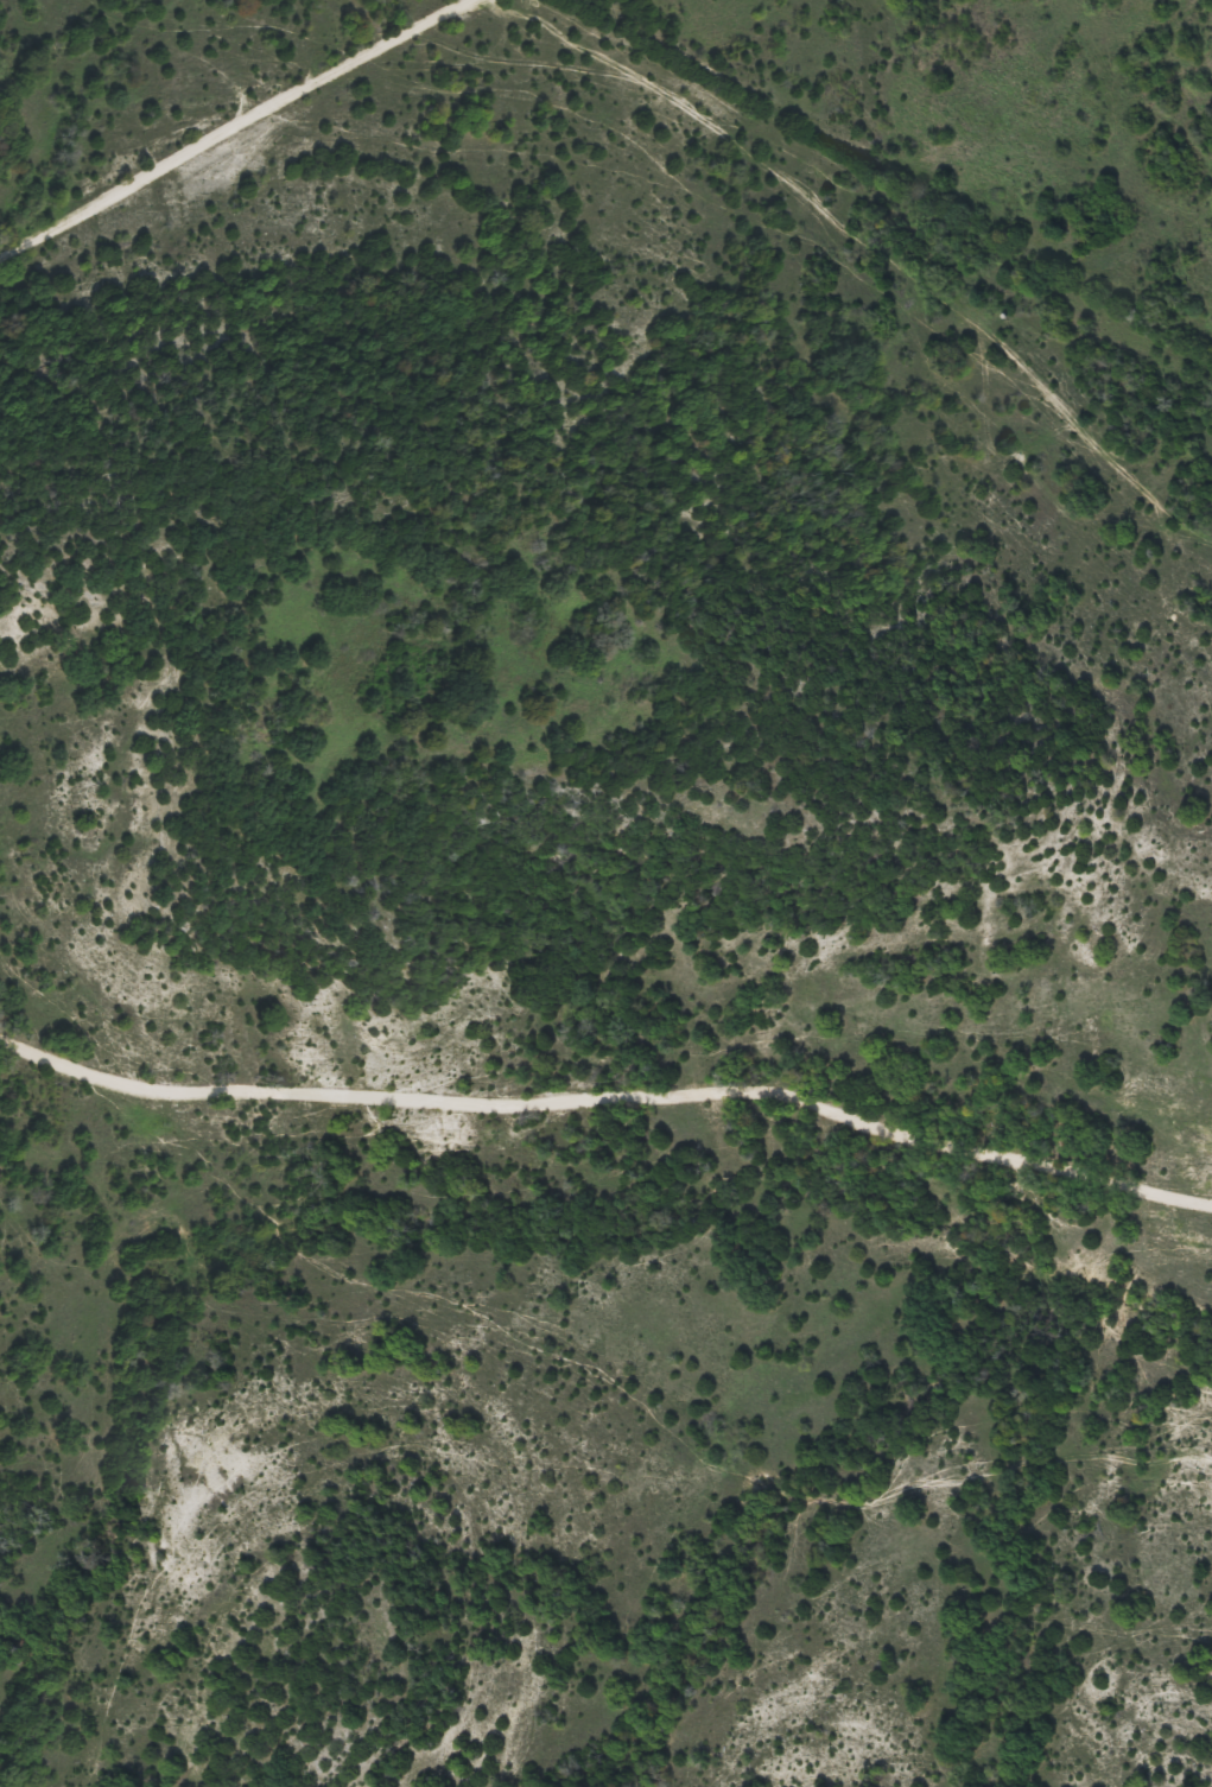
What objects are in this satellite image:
road: (214, 121)
road: (614, 1079)

